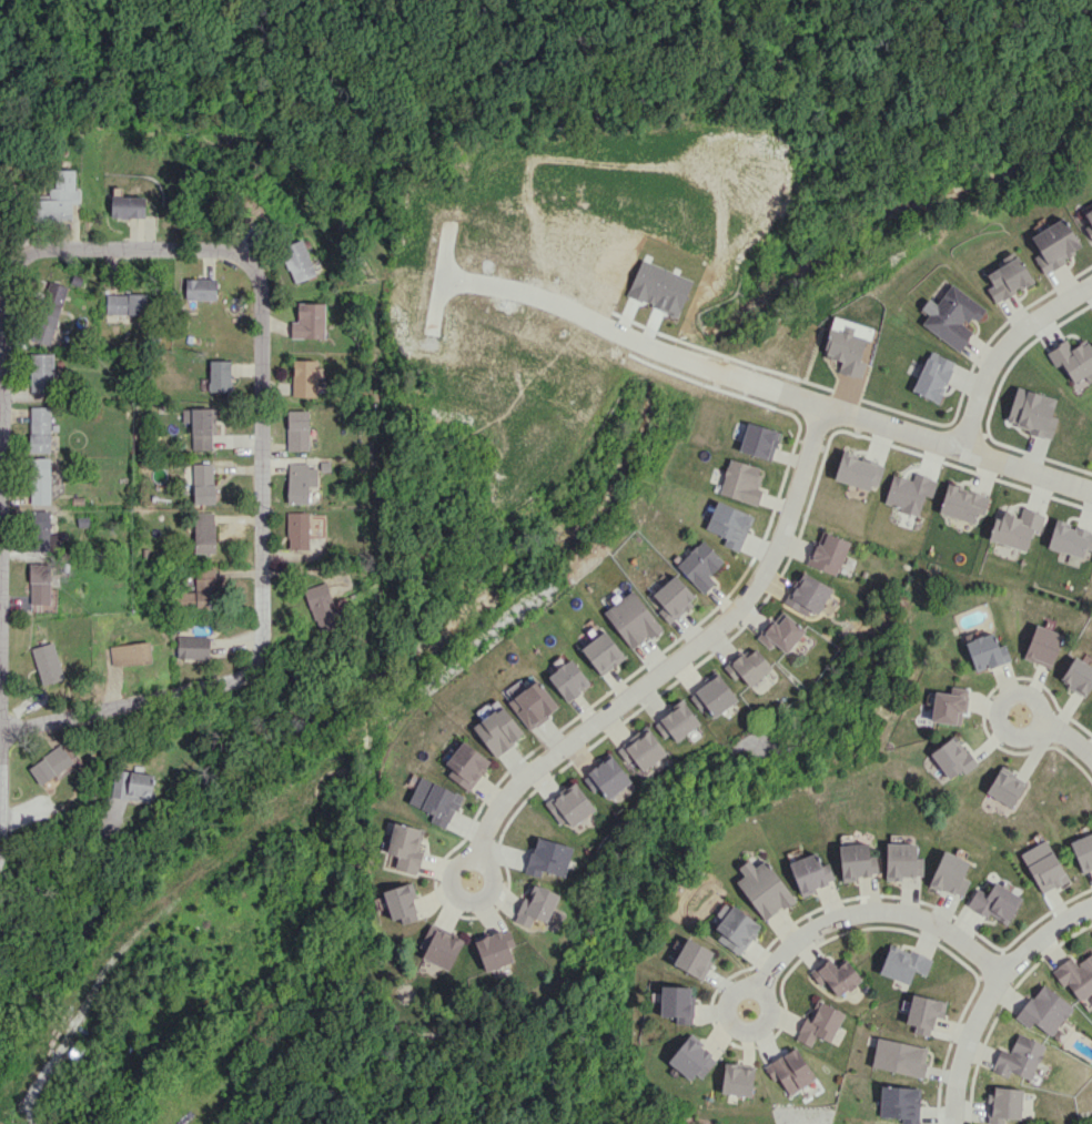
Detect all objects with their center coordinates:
building: (60, 198)
building: (128, 206)
building: (1089, 225)
building: (1054, 244)
road: (83, 252)
building: (297, 261)
building: (1007, 277)
building: (200, 288)
building: (125, 304)
building: (48, 312)
building: (951, 316)
building: (309, 321)
road: (611, 332)
road: (1004, 348)
building: (846, 352)
building: (1073, 358)
building: (41, 372)
building: (220, 375)
building: (932, 376)
building: (304, 377)
building: (1031, 412)
building: (200, 426)
building: (39, 428)
building: (297, 429)
road: (937, 439)
building: (758, 441)
building: (858, 470)
building: (39, 479)
building: (301, 482)
building: (740, 482)
building: (203, 483)
building: (908, 492)
building: (962, 503)
building: (729, 524)
building: (1015, 528)
building: (40, 529)
building: (296, 530)
building: (204, 533)
building: (1070, 538)
building: (828, 553)
building: (699, 566)
building: (39, 583)
building: (202, 590)
building: (807, 594)
building: (673, 598)
building: (322, 607)
building: (631, 619)
building: (781, 631)
building: (192, 646)
building: (1042, 646)
road: (257, 647)
building: (987, 651)
building: (601, 652)
building: (130, 654)
road: (674, 661)
building: (47, 662)
building: (748, 666)
building: (1078, 676)
building: (568, 680)
building: (712, 695)
road: (1, 703)
building: (533, 703)
building: (949, 706)
building: (676, 721)
building: (497, 730)
road: (1058, 730)
building: (641, 749)
building: (951, 758)
building: (50, 764)
building: (466, 766)
building: (606, 777)
building: (133, 784)
building: (1005, 787)
building: (435, 801)
building: (569, 804)
building: (405, 847)
building: (1083, 851)
building: (548, 857)
building: (853, 860)
building: (902, 861)
building: (1043, 865)
road: (55, 867)
building: (809, 873)
building: (950, 874)
building: (764, 889)
building: (995, 902)
building: (401, 903)
building: (536, 905)
road: (860, 911)
building: (735, 928)
building: (439, 946)
building: (495, 949)
building: (694, 958)
building: (902, 963)
building: (836, 975)
building: (1076, 976)
road: (993, 996)
building: (677, 1003)
building: (1044, 1010)
building: (923, 1013)
building: (820, 1023)
building: (899, 1057)
building: (1019, 1057)
building: (690, 1059)
building: (790, 1071)
building: (737, 1079)
building: (900, 1103)
building: (1003, 1104)

